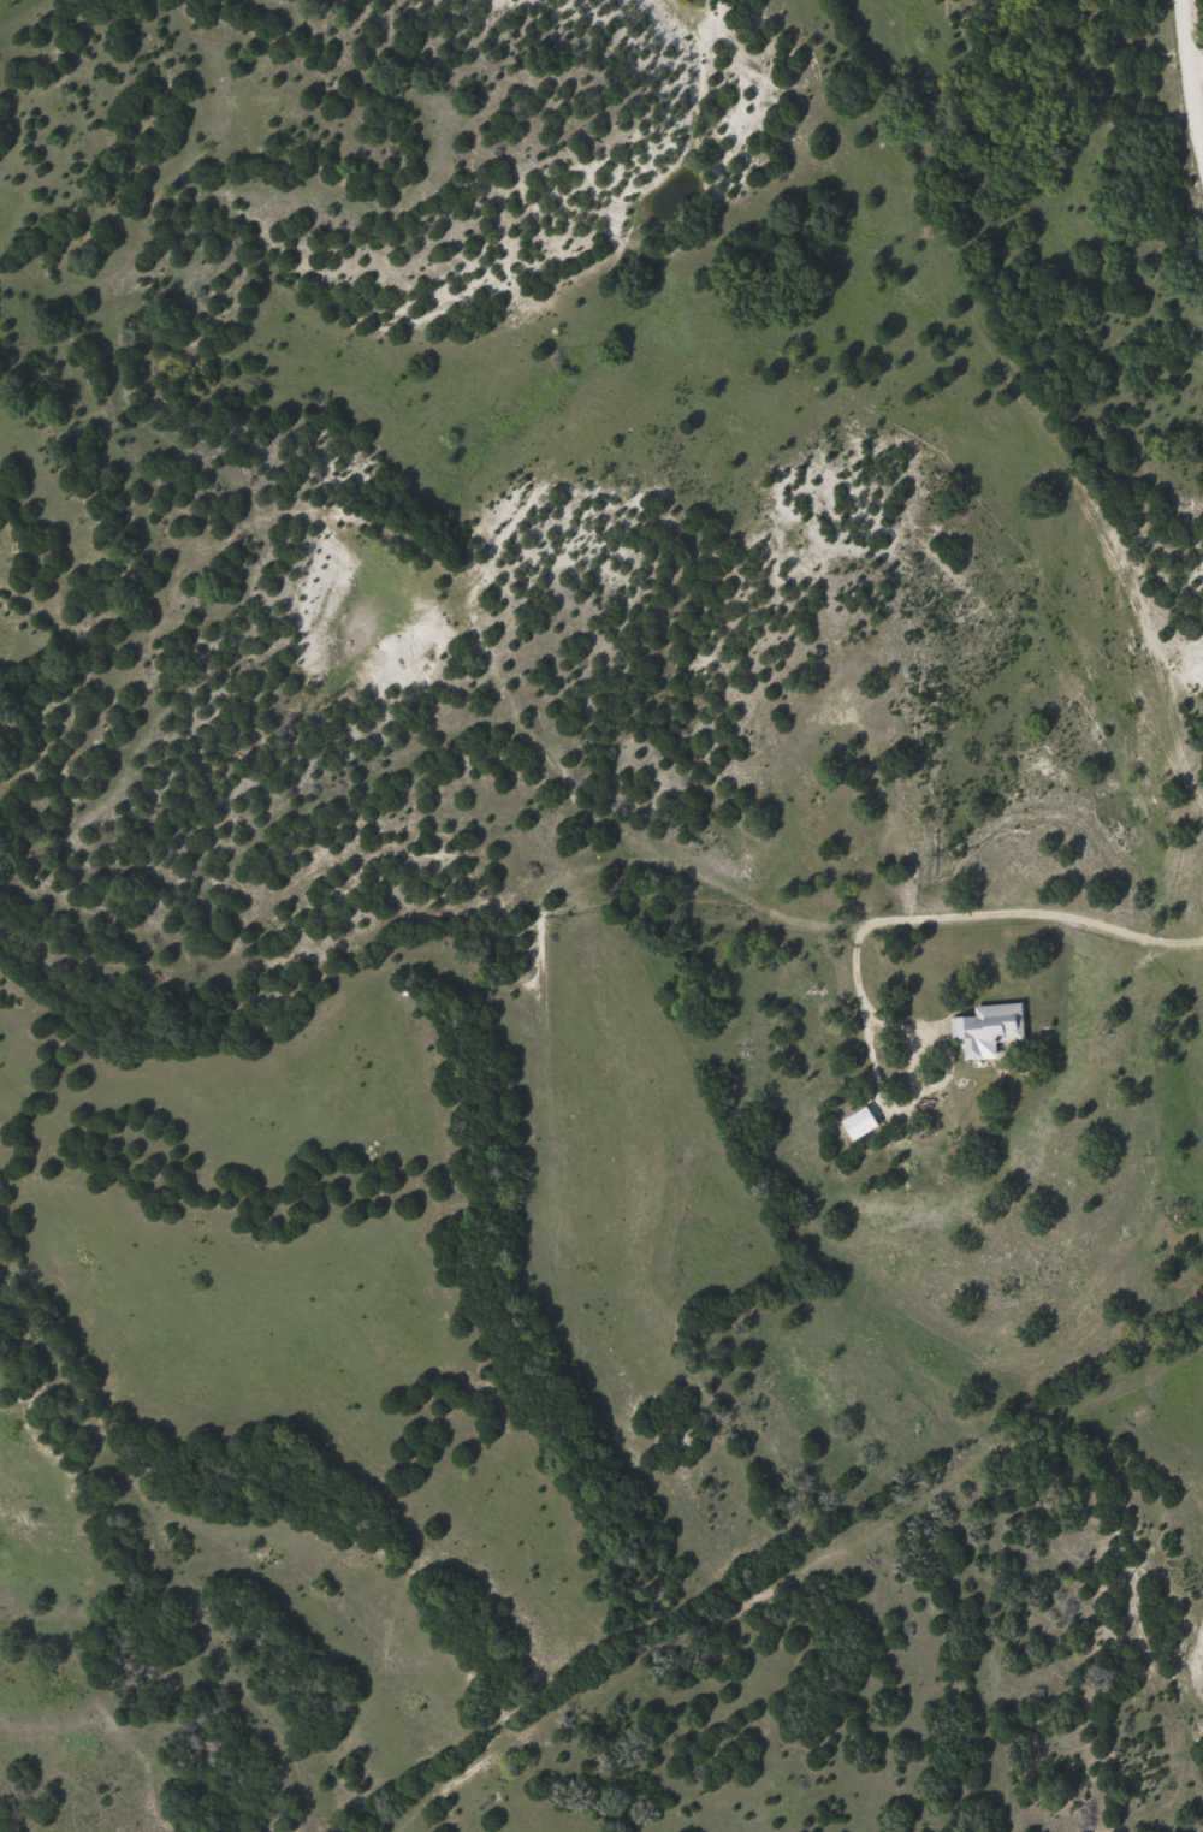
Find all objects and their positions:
road: (1202, 77)
road: (980, 913)
building: (990, 1026)
road: (871, 1314)

